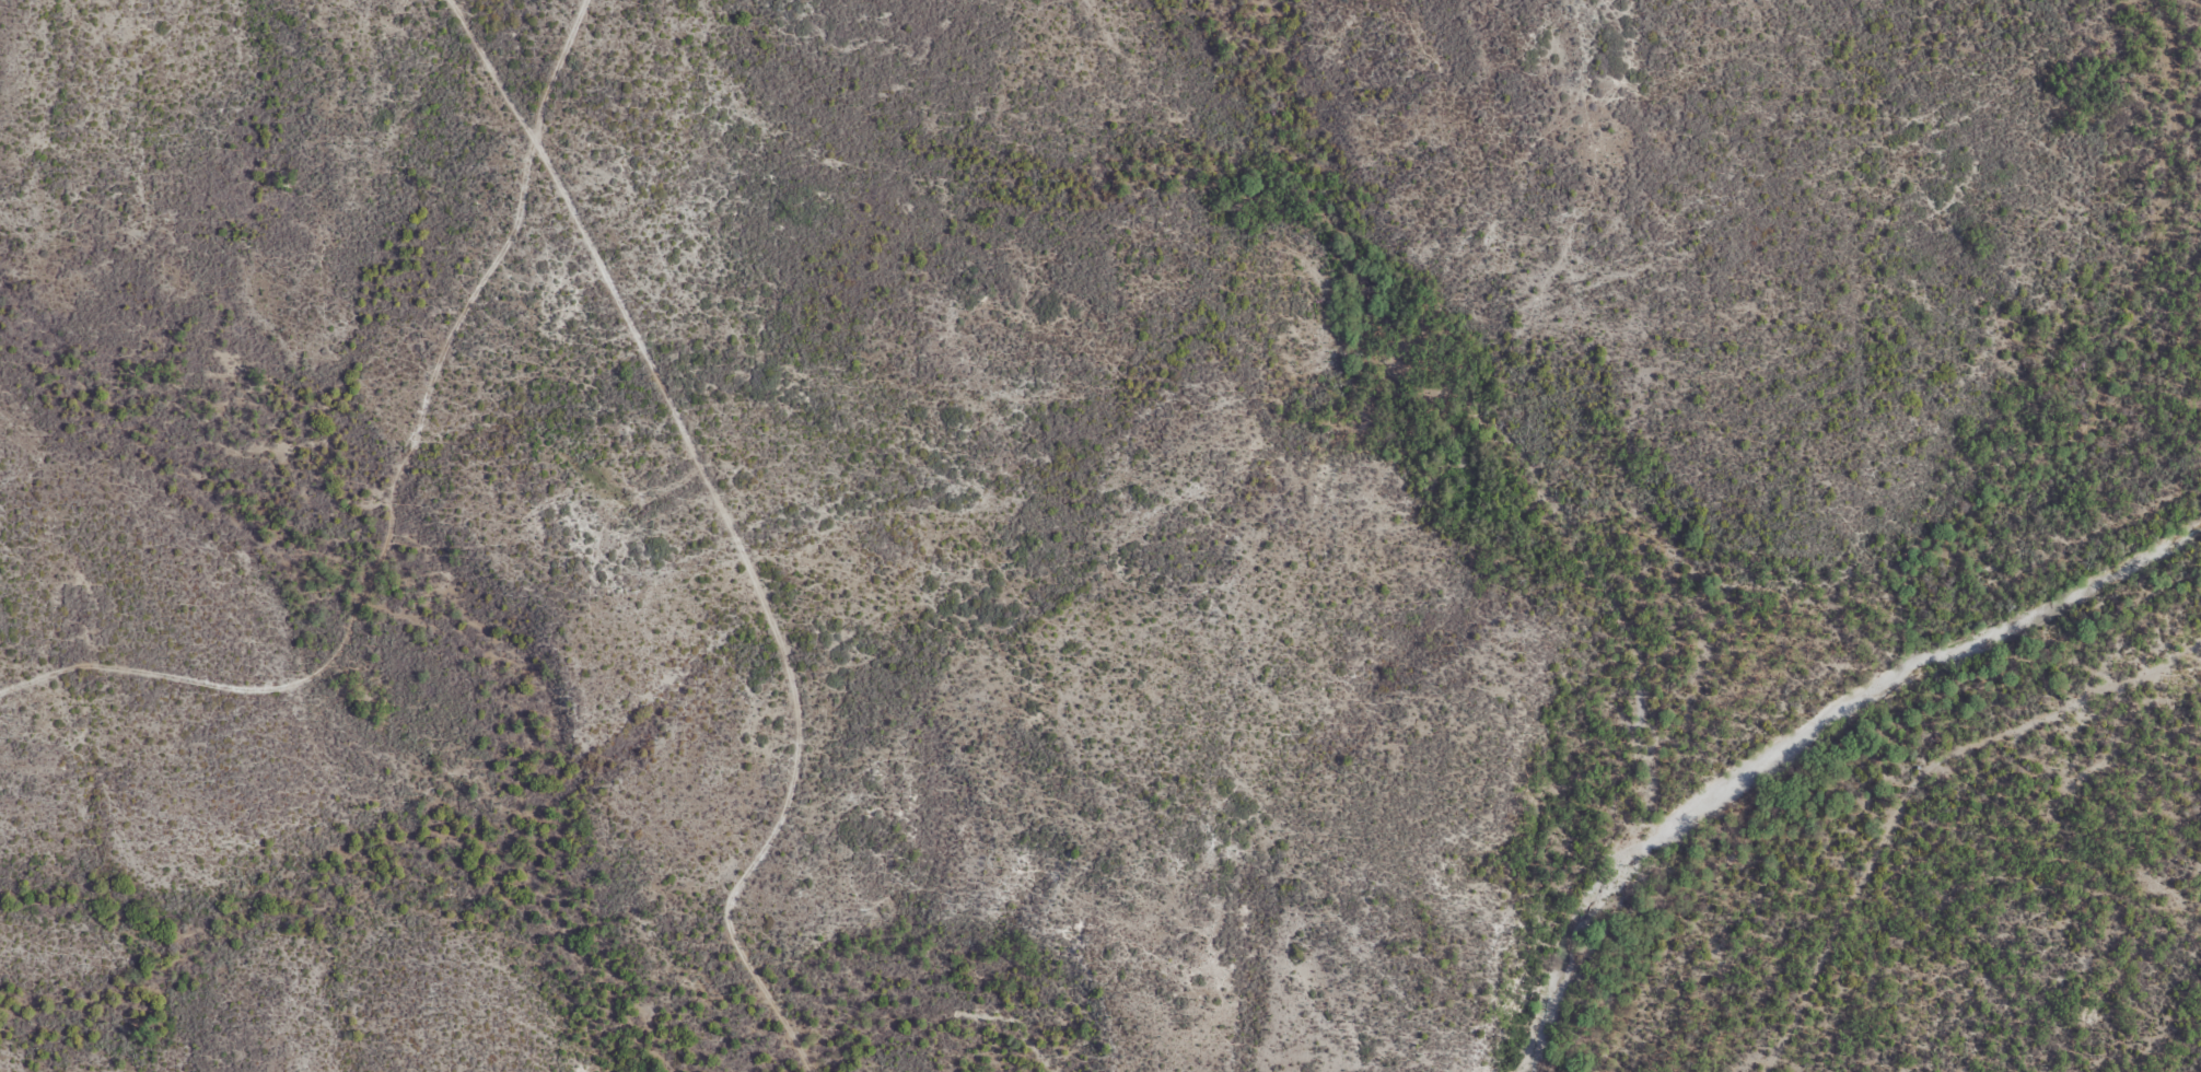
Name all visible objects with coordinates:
road: (399, 492)

